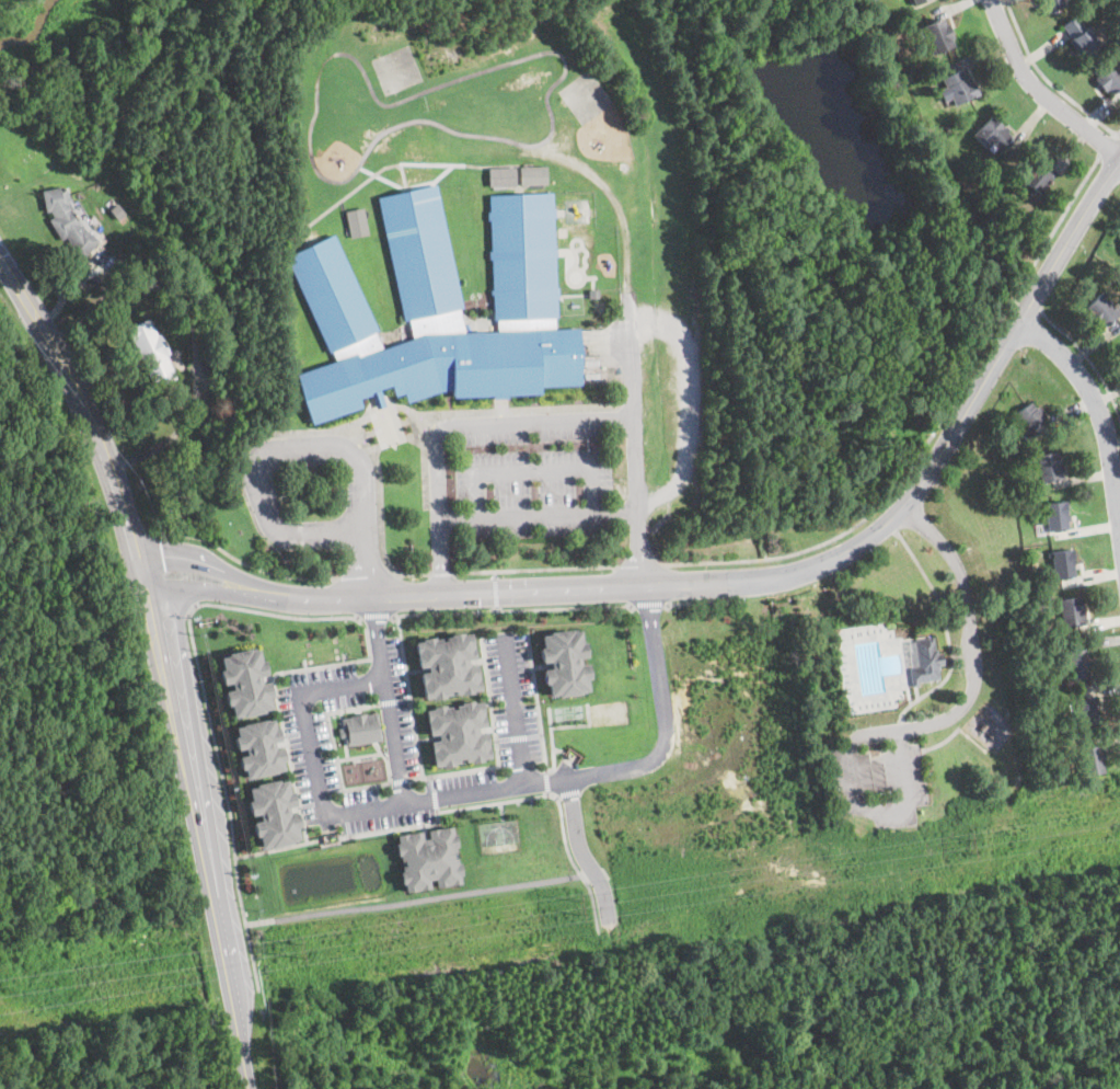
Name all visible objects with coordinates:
building: (917, 2)
building: (1053, 3)
building: (1081, 34)
building: (938, 36)
building: (1108, 76)
road: (1049, 80)
building: (956, 89)
road: (1037, 91)
building: (994, 135)
road: (1107, 146)
building: (532, 174)
building: (501, 175)
building: (1036, 177)
building: (117, 211)
building: (66, 218)
building: (356, 221)
road: (67, 291)
road: (1029, 303)
building: (1102, 309)
building: (439, 310)
road: (630, 321)
road: (193, 329)
building: (150, 351)
road: (1087, 358)
road: (1099, 414)
building: (1031, 420)
road: (454, 425)
road: (932, 434)
road: (295, 449)
building: (1048, 465)
road: (377, 469)
road: (534, 471)
building: (1057, 514)
road: (538, 518)
road: (242, 562)
building: (1062, 563)
road: (638, 566)
road: (534, 570)
road: (440, 573)
road: (369, 578)
road: (736, 582)
road: (495, 591)
road: (702, 601)
road: (650, 605)
road: (509, 609)
building: (1071, 610)
road: (376, 616)
road: (948, 632)
road: (974, 660)
road: (164, 661)
building: (564, 661)
building: (926, 661)
building: (446, 664)
building: (1078, 664)
building: (243, 681)
road: (206, 695)
road: (390, 700)
road: (536, 702)
road: (517, 711)
building: (1085, 711)
building: (359, 727)
building: (457, 732)
building: (257, 746)
building: (1090, 758)
road: (442, 775)
road: (547, 782)
road: (469, 792)
road: (888, 806)
road: (457, 809)
building: (272, 812)
power tower: (968, 845)
road: (581, 851)
building: (427, 857)
road: (413, 898)
power tower: (575, 906)
power tower: (295, 950)

